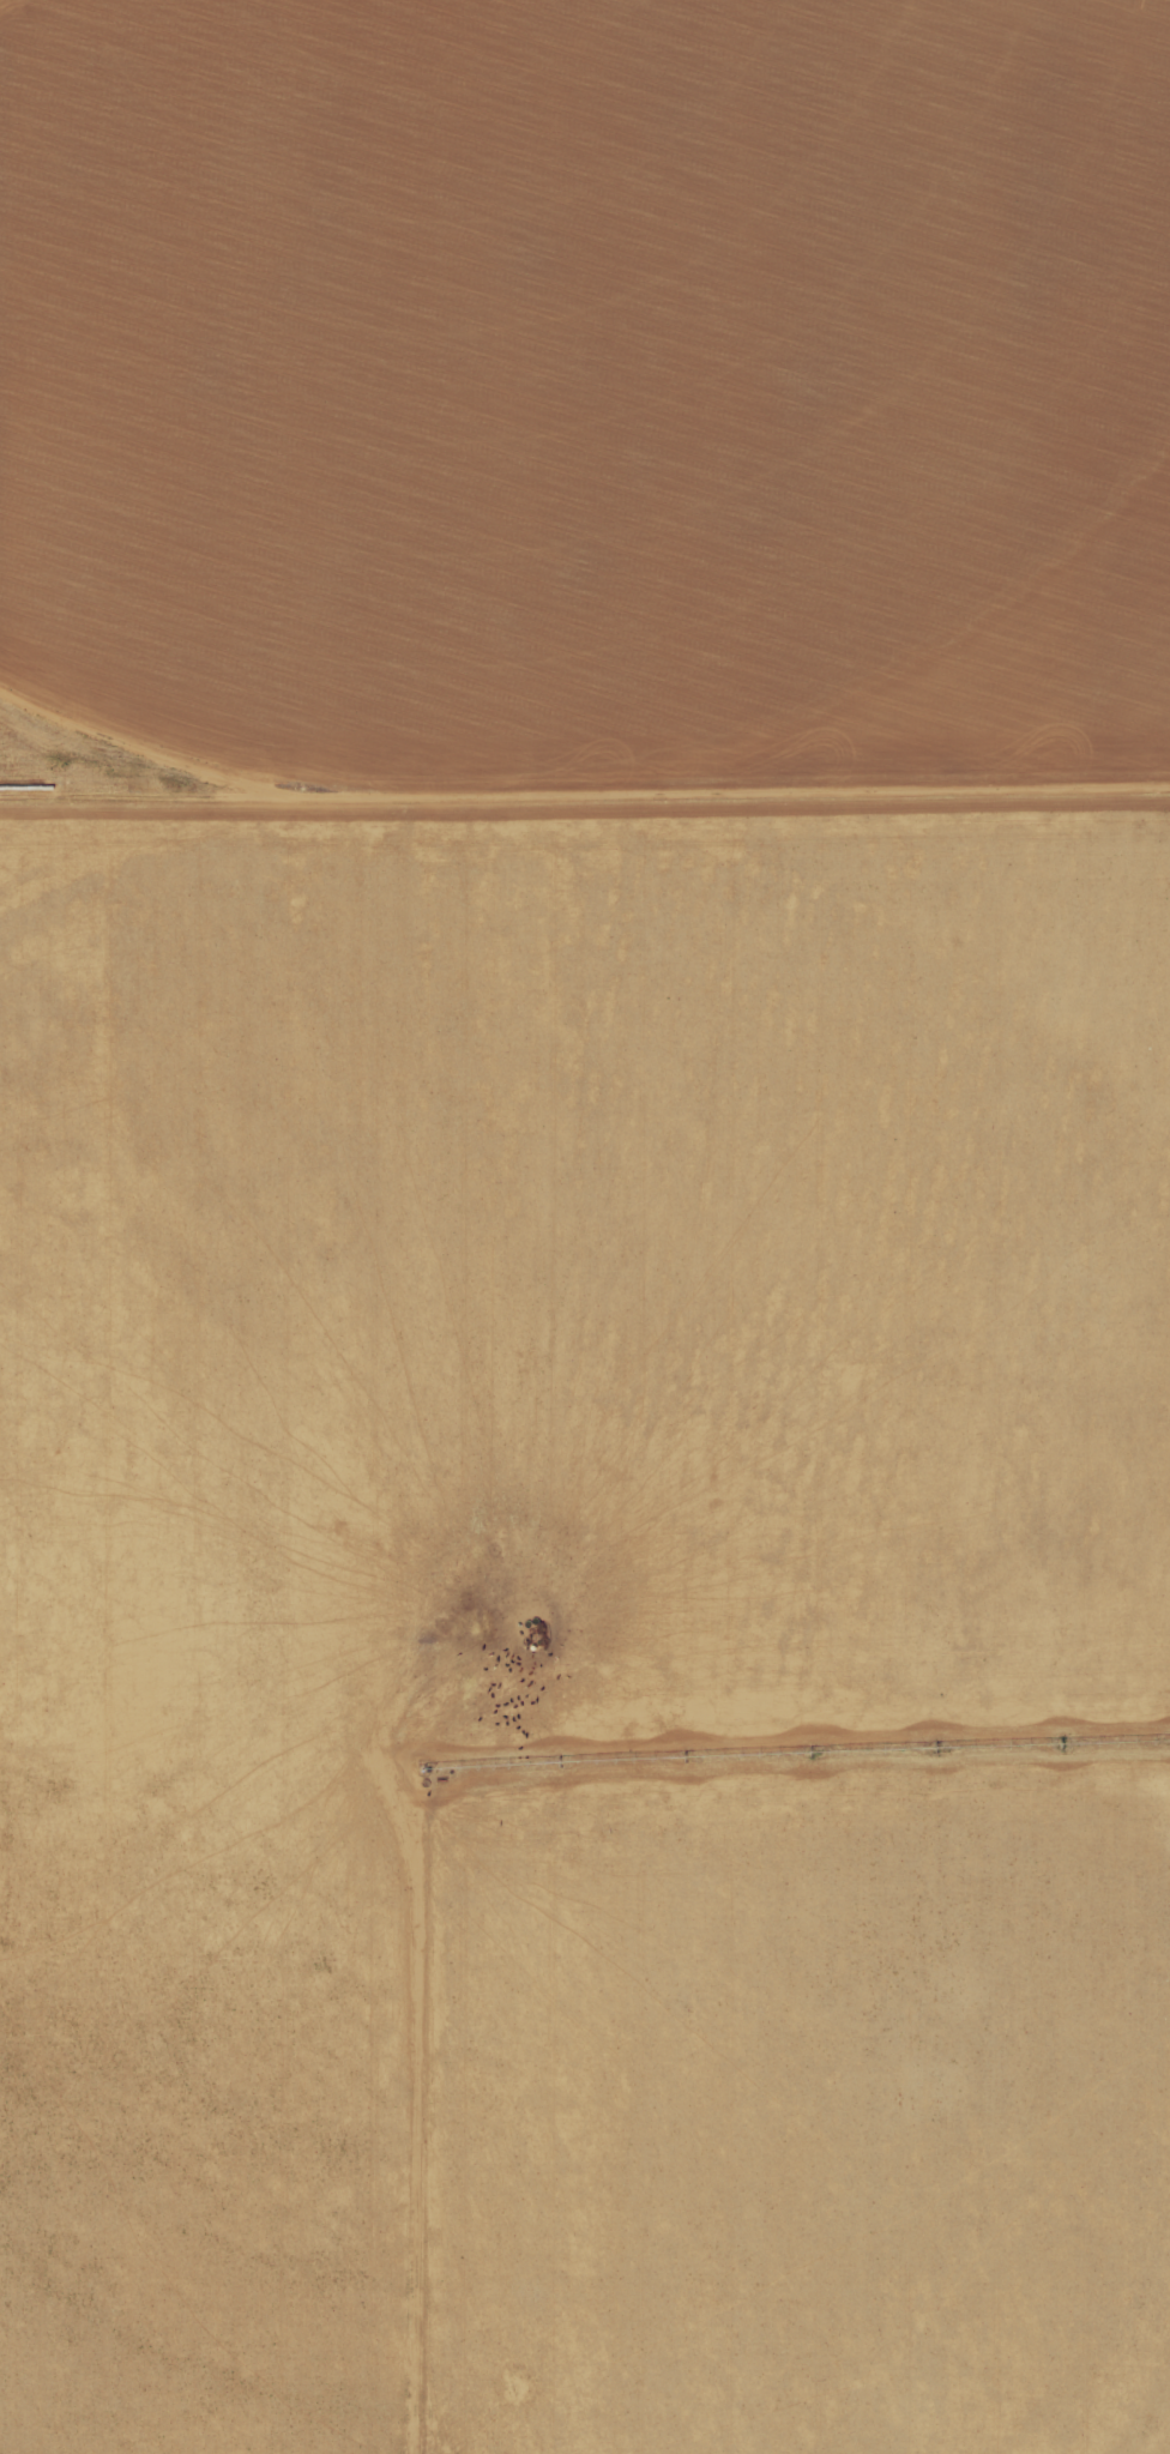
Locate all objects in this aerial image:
road: (585, 771)

